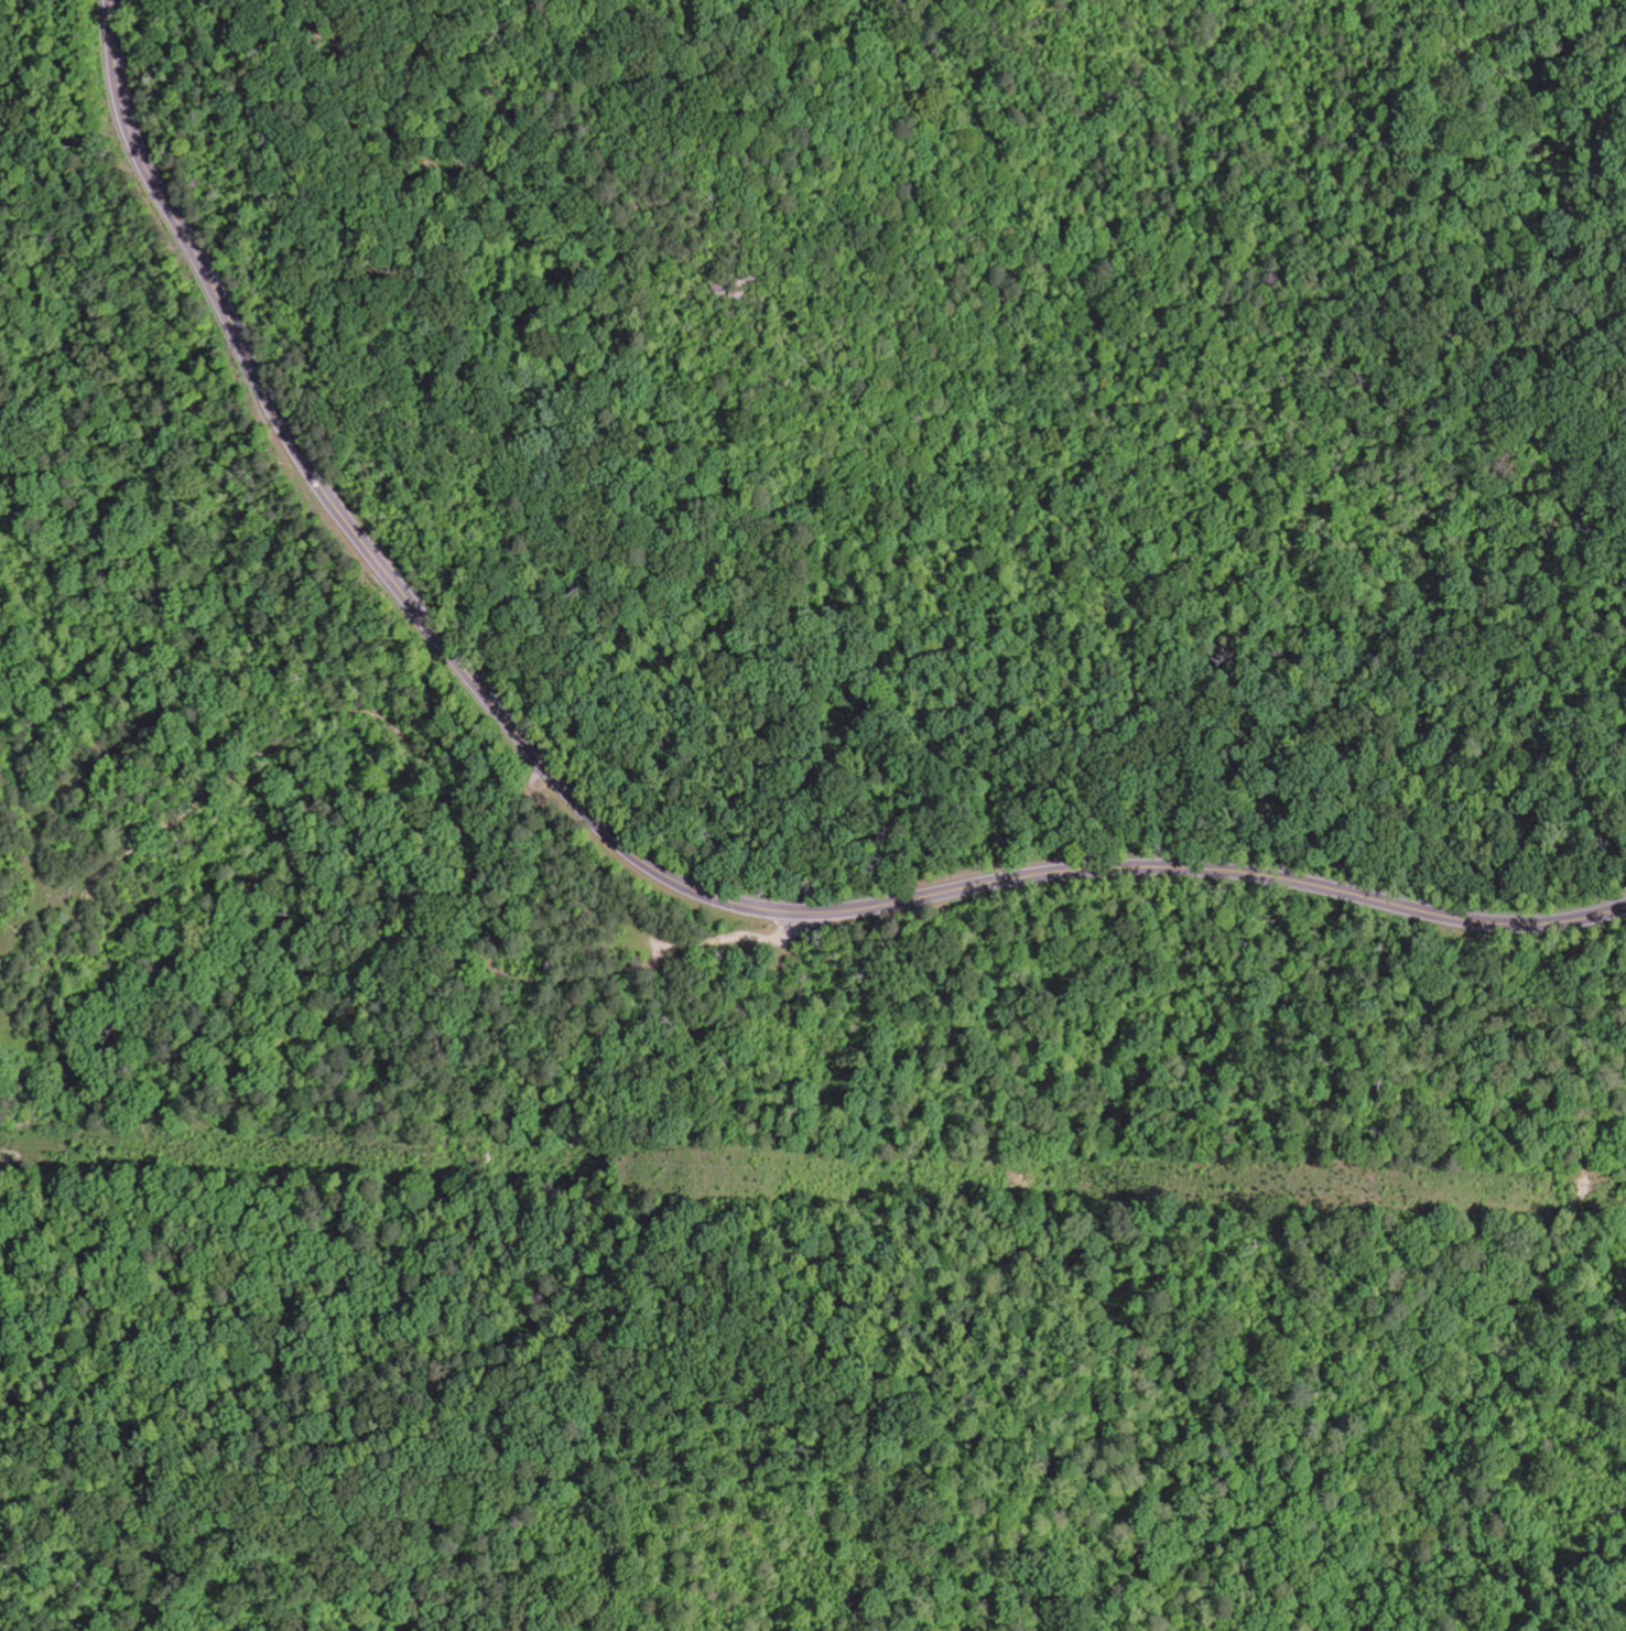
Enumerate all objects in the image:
road: (637, 847)
road: (457, 866)

